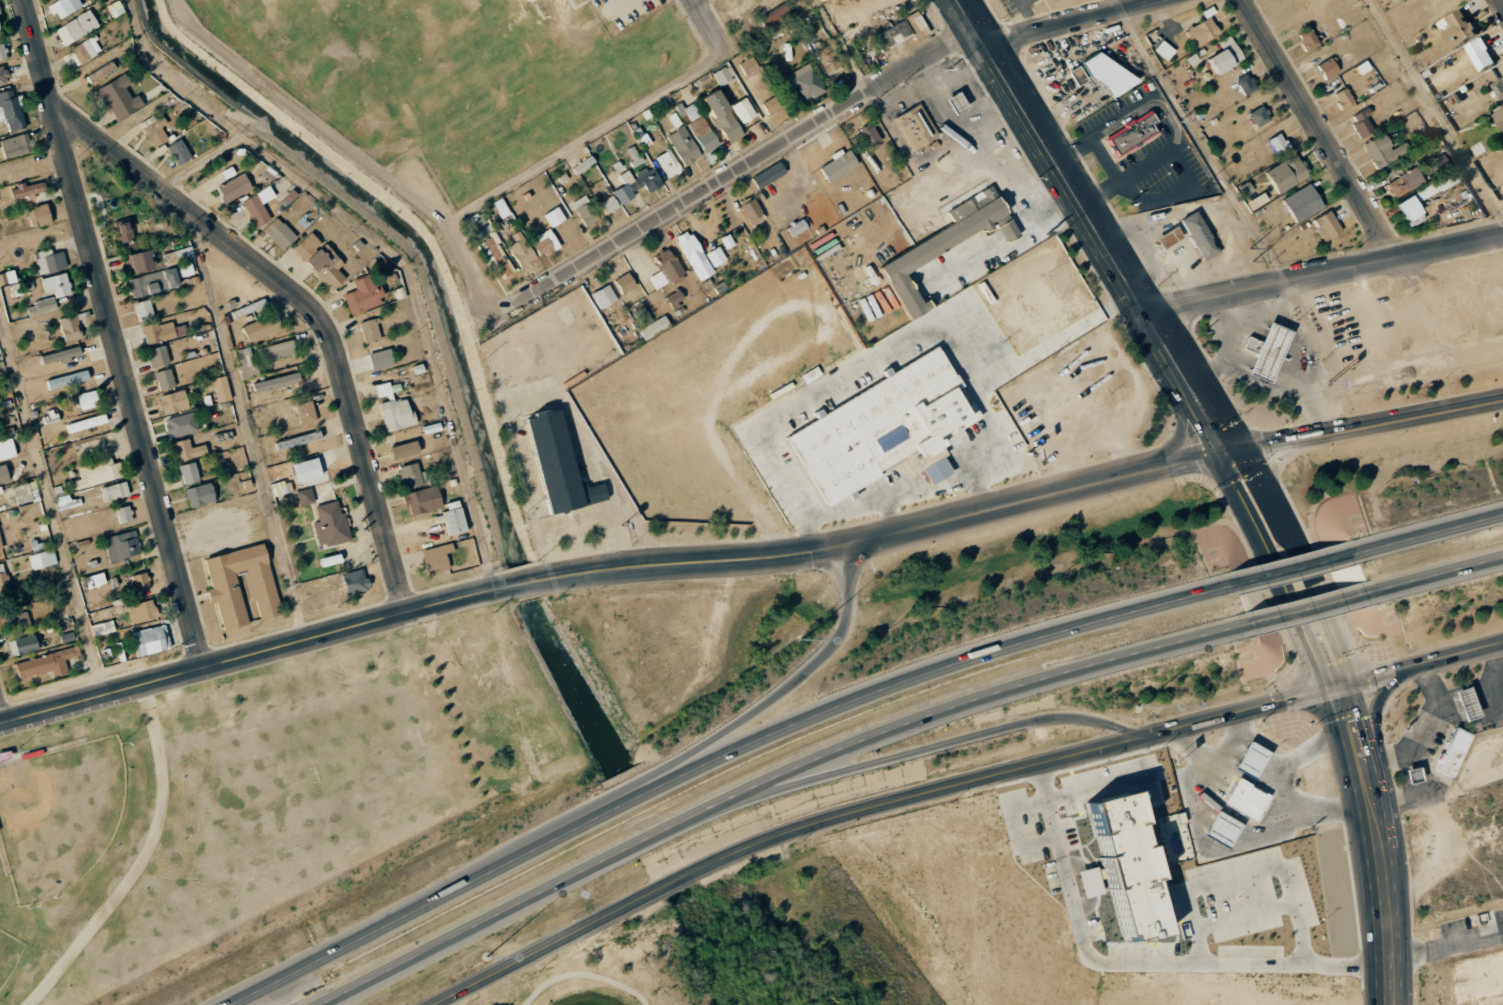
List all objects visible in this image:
building: (523, 0)
building: (529, 0)
building: (821, 0)
road: (1501, 2)
road: (1115, 5)
building: (63, 6)
building: (0, 14)
building: (776, 15)
road: (1070, 22)
road: (711, 23)
building: (76, 27)
building: (1459, 27)
building: (0, 29)
building: (1202, 31)
building: (893, 34)
building: (1308, 39)
building: (1164, 50)
building: (2, 51)
building: (80, 52)
building: (1482, 54)
building: (1226, 55)
building: (828, 58)
building: (748, 65)
building: (1329, 68)
building: (2, 75)
building: (722, 75)
building: (1078, 75)
building: (802, 82)
building: (1246, 84)
building: (1500, 87)
building: (119, 97)
building: (1344, 97)
building: (957, 102)
building: (772, 105)
building: (743, 109)
building: (10, 110)
road: (1434, 110)
building: (1500, 115)
building: (723, 116)
building: (1260, 116)
building: (1362, 123)
building: (699, 126)
building: (916, 127)
building: (155, 130)
building: (1133, 134)
building: (1279, 143)
building: (16, 145)
building: (1487, 145)
building: (683, 146)
road: (1046, 148)
building: (1383, 150)
building: (179, 152)
building: (633, 155)
building: (1439, 162)
building: (667, 163)
building: (583, 164)
road: (750, 165)
building: (839, 165)
building: (1287, 173)
building: (769, 175)
road: (1351, 178)
building: (1404, 182)
building: (636, 183)
building: (234, 187)
building: (29, 189)
building: (1423, 197)
building: (1257, 201)
building: (1303, 202)
building: (608, 204)
building: (258, 205)
building: (501, 207)
building: (585, 210)
building: (752, 211)
building: (39, 215)
building: (554, 216)
building: (477, 225)
building: (1326, 225)
building: (797, 227)
building: (279, 233)
building: (1200, 235)
building: (125, 236)
building: (1169, 237)
building: (547, 241)
building: (944, 244)
building: (307, 245)
building: (521, 250)
building: (497, 255)
building: (694, 255)
building: (178, 256)
building: (715, 256)
building: (49, 261)
building: (138, 261)
building: (327, 266)
building: (669, 266)
building: (185, 269)
road: (1325, 275)
building: (657, 279)
building: (154, 282)
building: (625, 282)
building: (56, 284)
building: (363, 295)
building: (604, 296)
building: (675, 298)
road: (308, 305)
building: (42, 306)
building: (144, 310)
building: (70, 327)
building: (261, 327)
building: (654, 327)
building: (370, 330)
road: (114, 332)
building: (162, 332)
river: (457, 334)
building: (1252, 344)
building: (276, 350)
building: (1271, 352)
building: (61, 355)
building: (157, 356)
building: (381, 359)
building: (245, 363)
road: (1184, 374)
building: (68, 379)
building: (164, 379)
building: (276, 382)
building: (218, 388)
road: (1164, 388)
building: (88, 399)
building: (173, 402)
building: (394, 409)
building: (306, 412)
building: (86, 423)
building: (181, 424)
road: (243, 426)
road: (1366, 426)
building: (884, 428)
building: (7, 449)
building: (186, 450)
building: (405, 450)
traffic signals: (1231, 453)
building: (559, 464)
road: (1274, 471)
building: (308, 472)
building: (98, 473)
building: (188, 473)
building: (410, 475)
building: (3, 476)
building: (279, 488)
building: (114, 491)
building: (26, 492)
building: (200, 495)
building: (305, 496)
road: (1038, 498)
building: (423, 500)
road: (51, 504)
building: (124, 514)
building: (330, 524)
road: (1441, 528)
building: (122, 546)
building: (0, 547)
building: (437, 557)
building: (42, 559)
road: (1301, 560)
road: (1448, 569)
road: (1277, 570)
road: (1283, 570)
building: (223, 580)
building: (140, 582)
building: (355, 582)
building: (4, 583)
road: (418, 608)
road: (1295, 609)
building: (142, 611)
building: (19, 621)
building: (102, 628)
building: (150, 640)
building: (23, 645)
road: (1426, 661)
building: (45, 663)
traffic signals: (1351, 681)
traffic signals: (1328, 688)
road: (1383, 696)
building: (1468, 703)
road: (1247, 709)
road: (0, 718)
road: (1366, 735)
road: (1342, 743)
road: (914, 750)
building: (1454, 752)
building: (1250, 760)
road: (692, 767)
building: (1416, 776)
park: (319, 781)
road: (743, 788)
road: (615, 790)
building: (1245, 799)
park: (60, 813)
building: (1221, 831)
road: (777, 838)
river: (676, 839)
road: (142, 860)
building: (1128, 866)
building: (1091, 882)
road: (1384, 897)
park: (740, 950)
park: (8, 954)
road: (1139, 964)
road: (586, 975)

